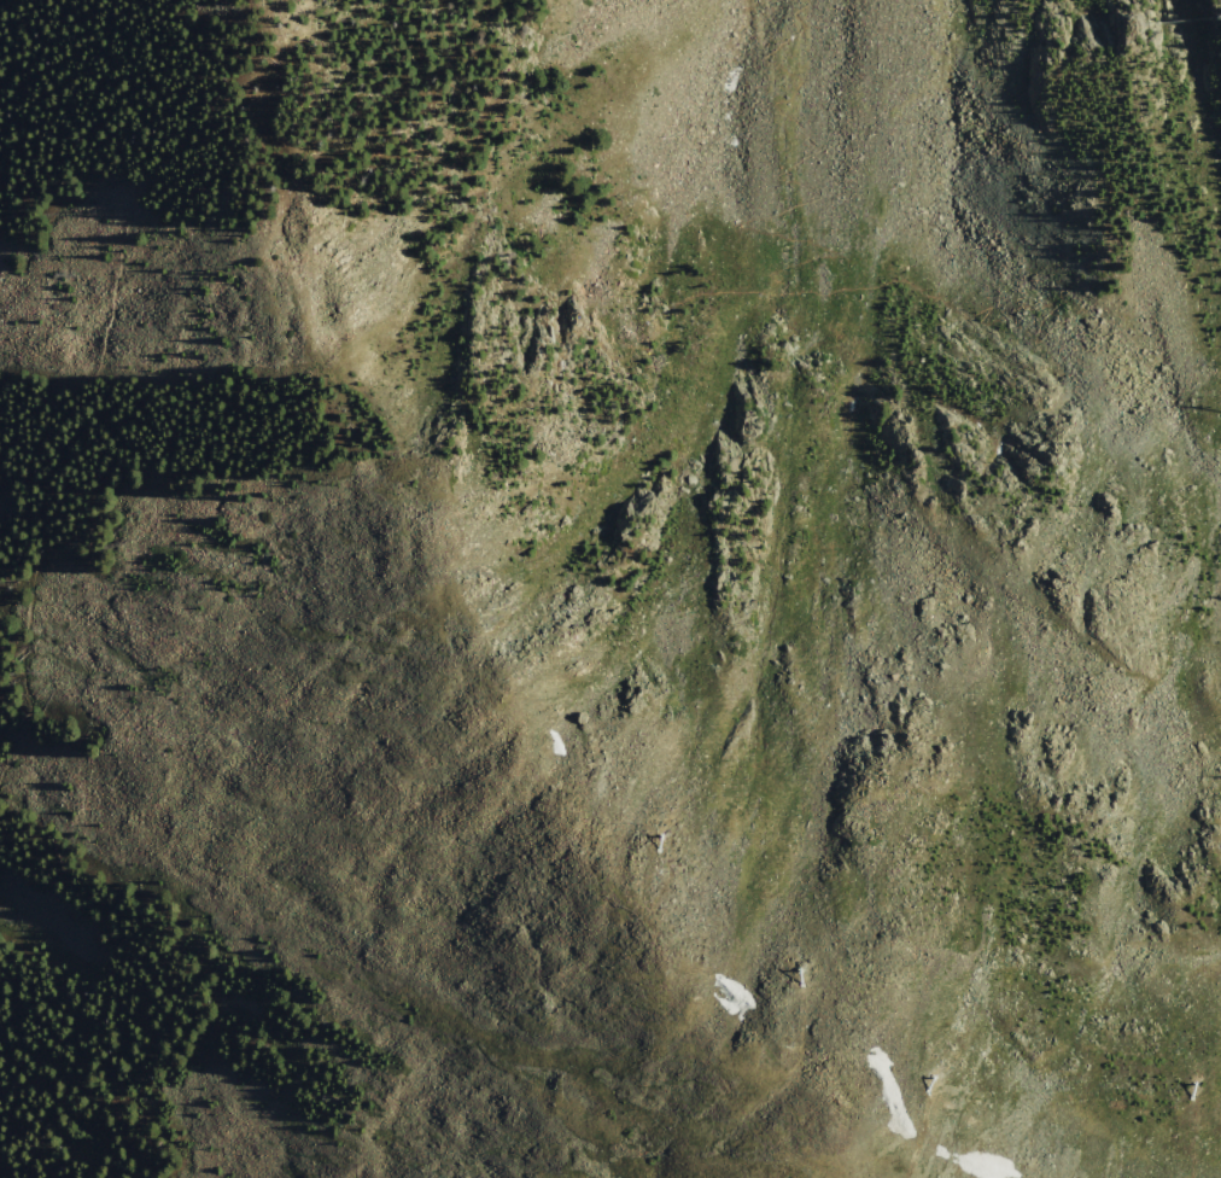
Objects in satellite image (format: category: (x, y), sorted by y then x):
ski resort: (846, 517)

